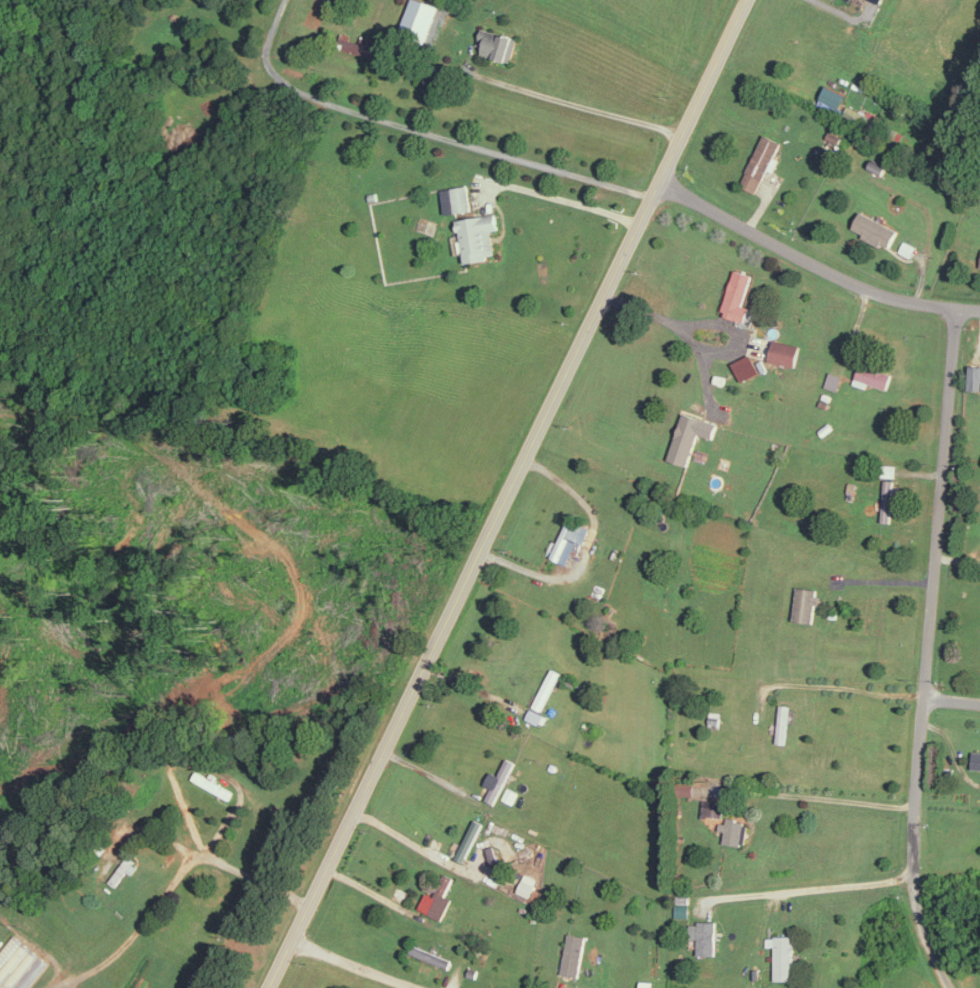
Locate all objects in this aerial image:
building: (881, 0)
road: (834, 9)
building: (498, 43)
building: (359, 44)
road: (546, 93)
road: (423, 129)
building: (763, 161)
building: (458, 198)
road: (568, 200)
building: (877, 229)
building: (479, 236)
road: (813, 264)
building: (739, 295)
road: (679, 331)
building: (787, 352)
building: (747, 366)
building: (873, 376)
building: (833, 380)
building: (692, 436)
building: (890, 470)
road: (508, 494)
building: (889, 500)
building: (571, 539)
road: (885, 579)
building: (807, 604)
road: (928, 651)
road: (472, 685)
building: (548, 689)
road: (952, 699)
building: (537, 716)
building: (784, 723)
building: (976, 760)
road: (434, 775)
building: (498, 780)
building: (213, 785)
building: (509, 794)
road: (815, 796)
building: (713, 807)
building: (734, 830)
building: (470, 840)
road: (410, 841)
building: (491, 854)
road: (172, 879)
building: (529, 884)
road: (813, 885)
building: (441, 894)
building: (705, 936)
building: (575, 954)
building: (431, 956)
building: (785, 957)
road: (355, 964)
building: (17, 966)
building: (650, 981)

